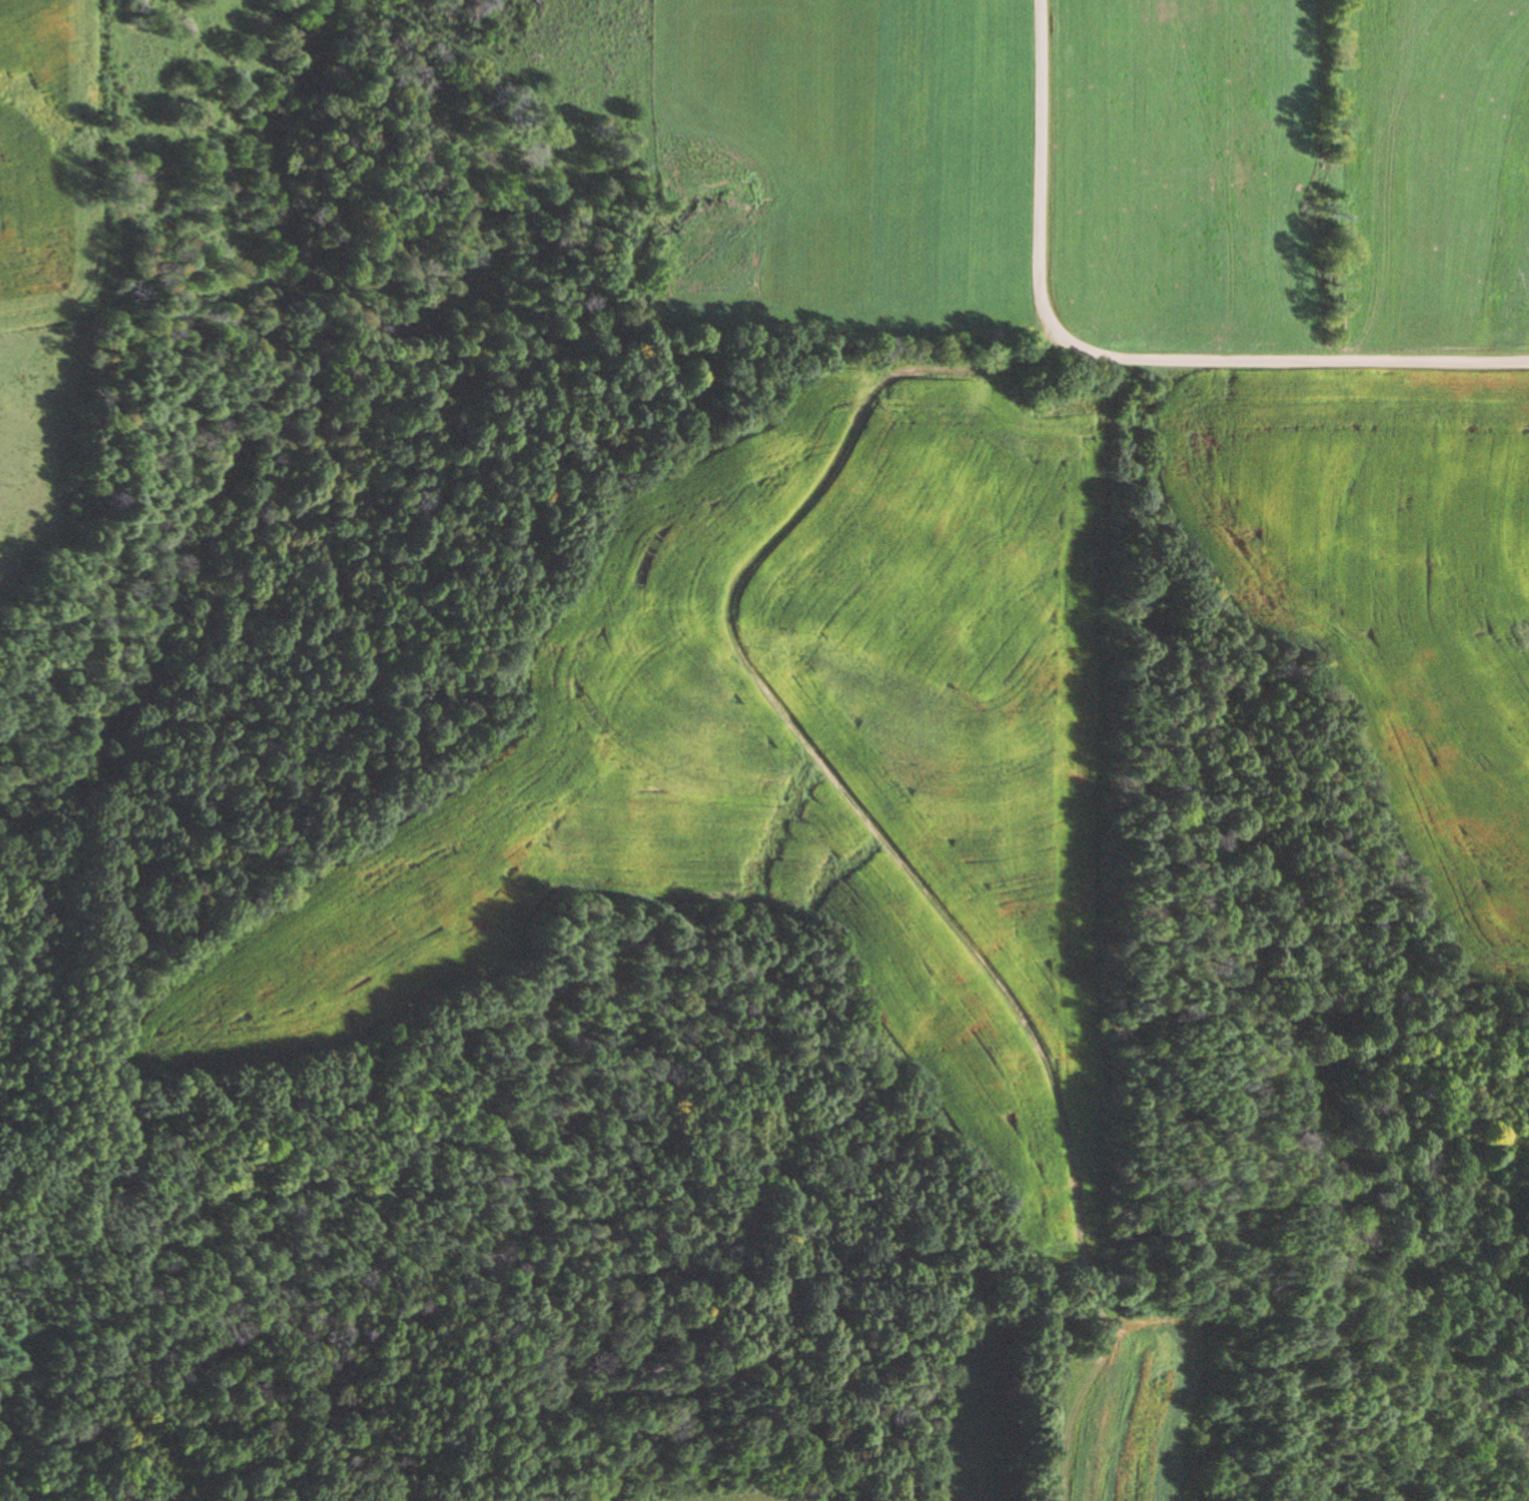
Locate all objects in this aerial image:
road: (1122, 353)

